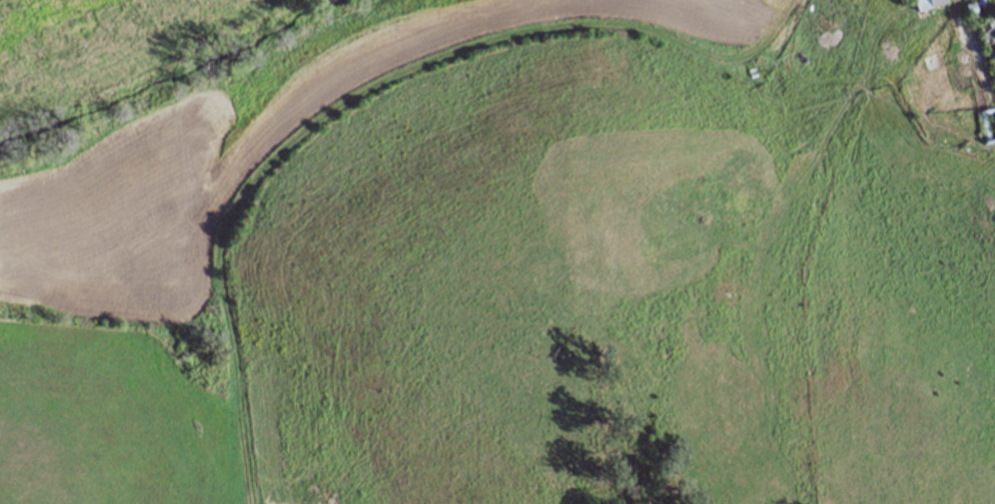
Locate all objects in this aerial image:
building: (927, 4)
building: (970, 7)
building: (989, 42)
building: (987, 126)

